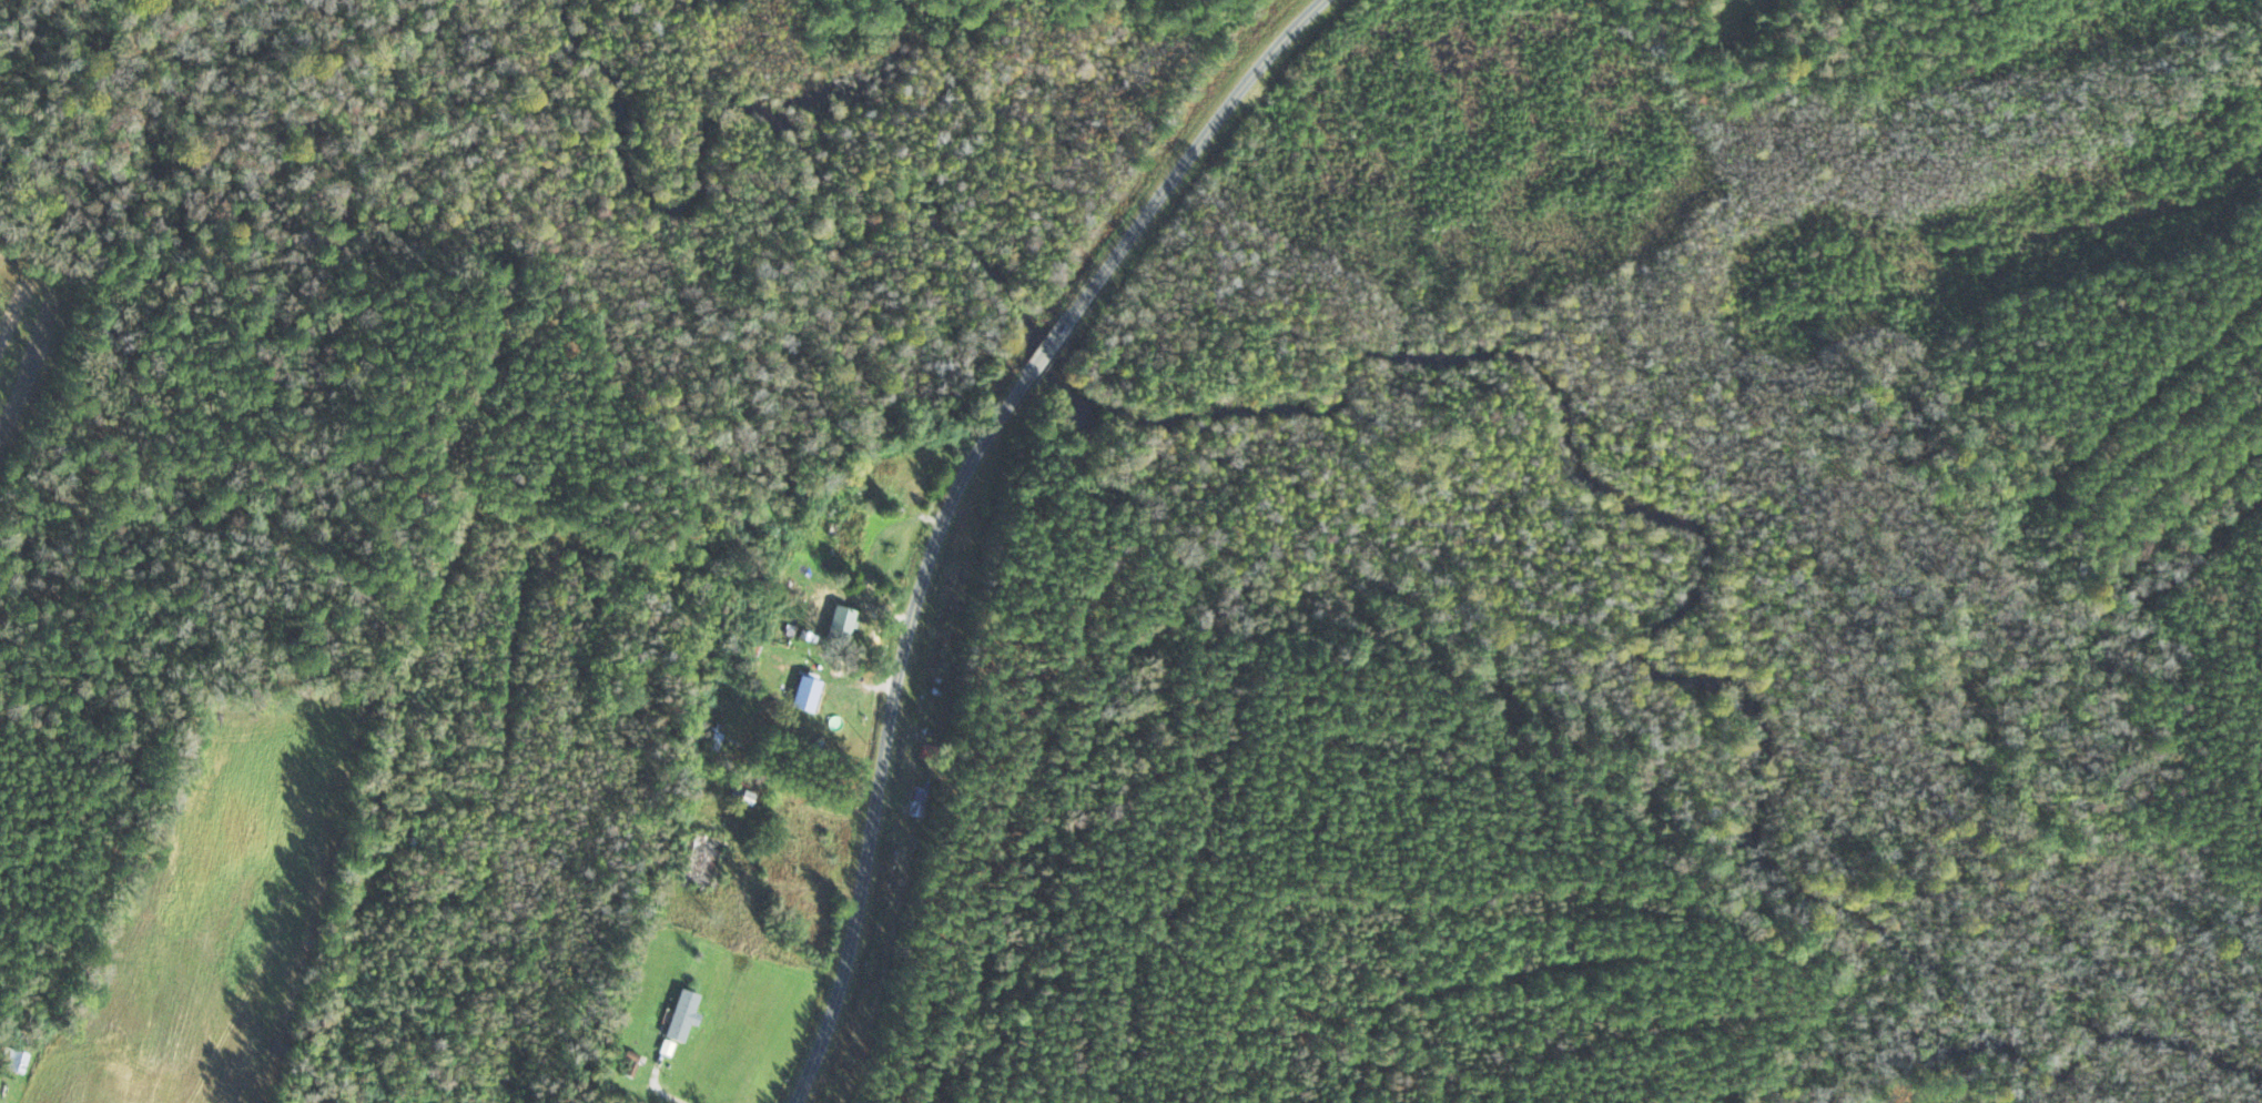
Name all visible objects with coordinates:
road: (1199, 150)
road: (1052, 341)
building: (844, 537)
building: (839, 626)
building: (805, 694)
road: (892, 726)
building: (744, 791)
building: (682, 1015)
building: (14, 1061)

